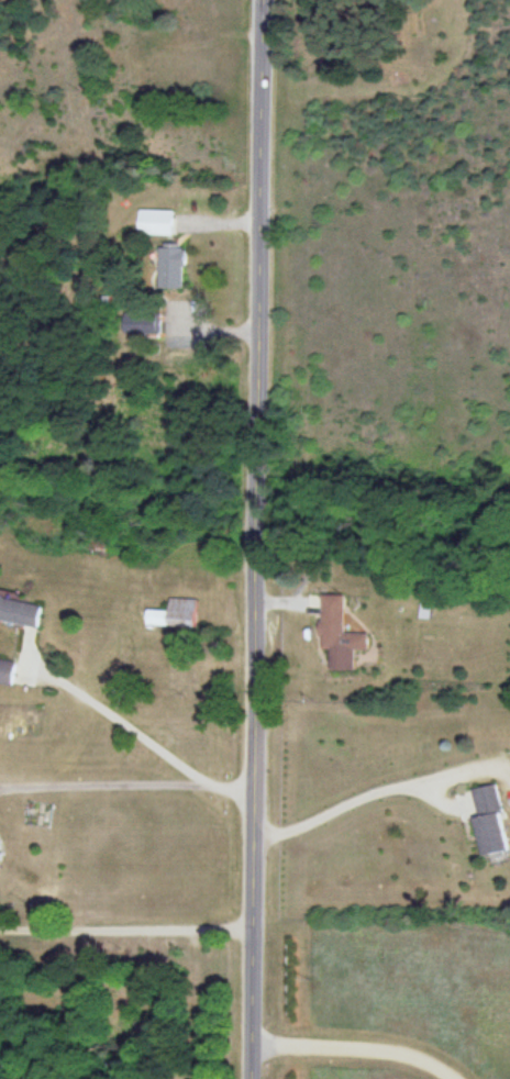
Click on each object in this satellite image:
building: (158, 223)
building: (174, 267)
building: (149, 324)
road: (257, 539)
building: (21, 612)
building: (178, 614)
building: (341, 636)
building: (8, 674)
building: (492, 822)
building: (2, 845)
road: (359, 1048)

